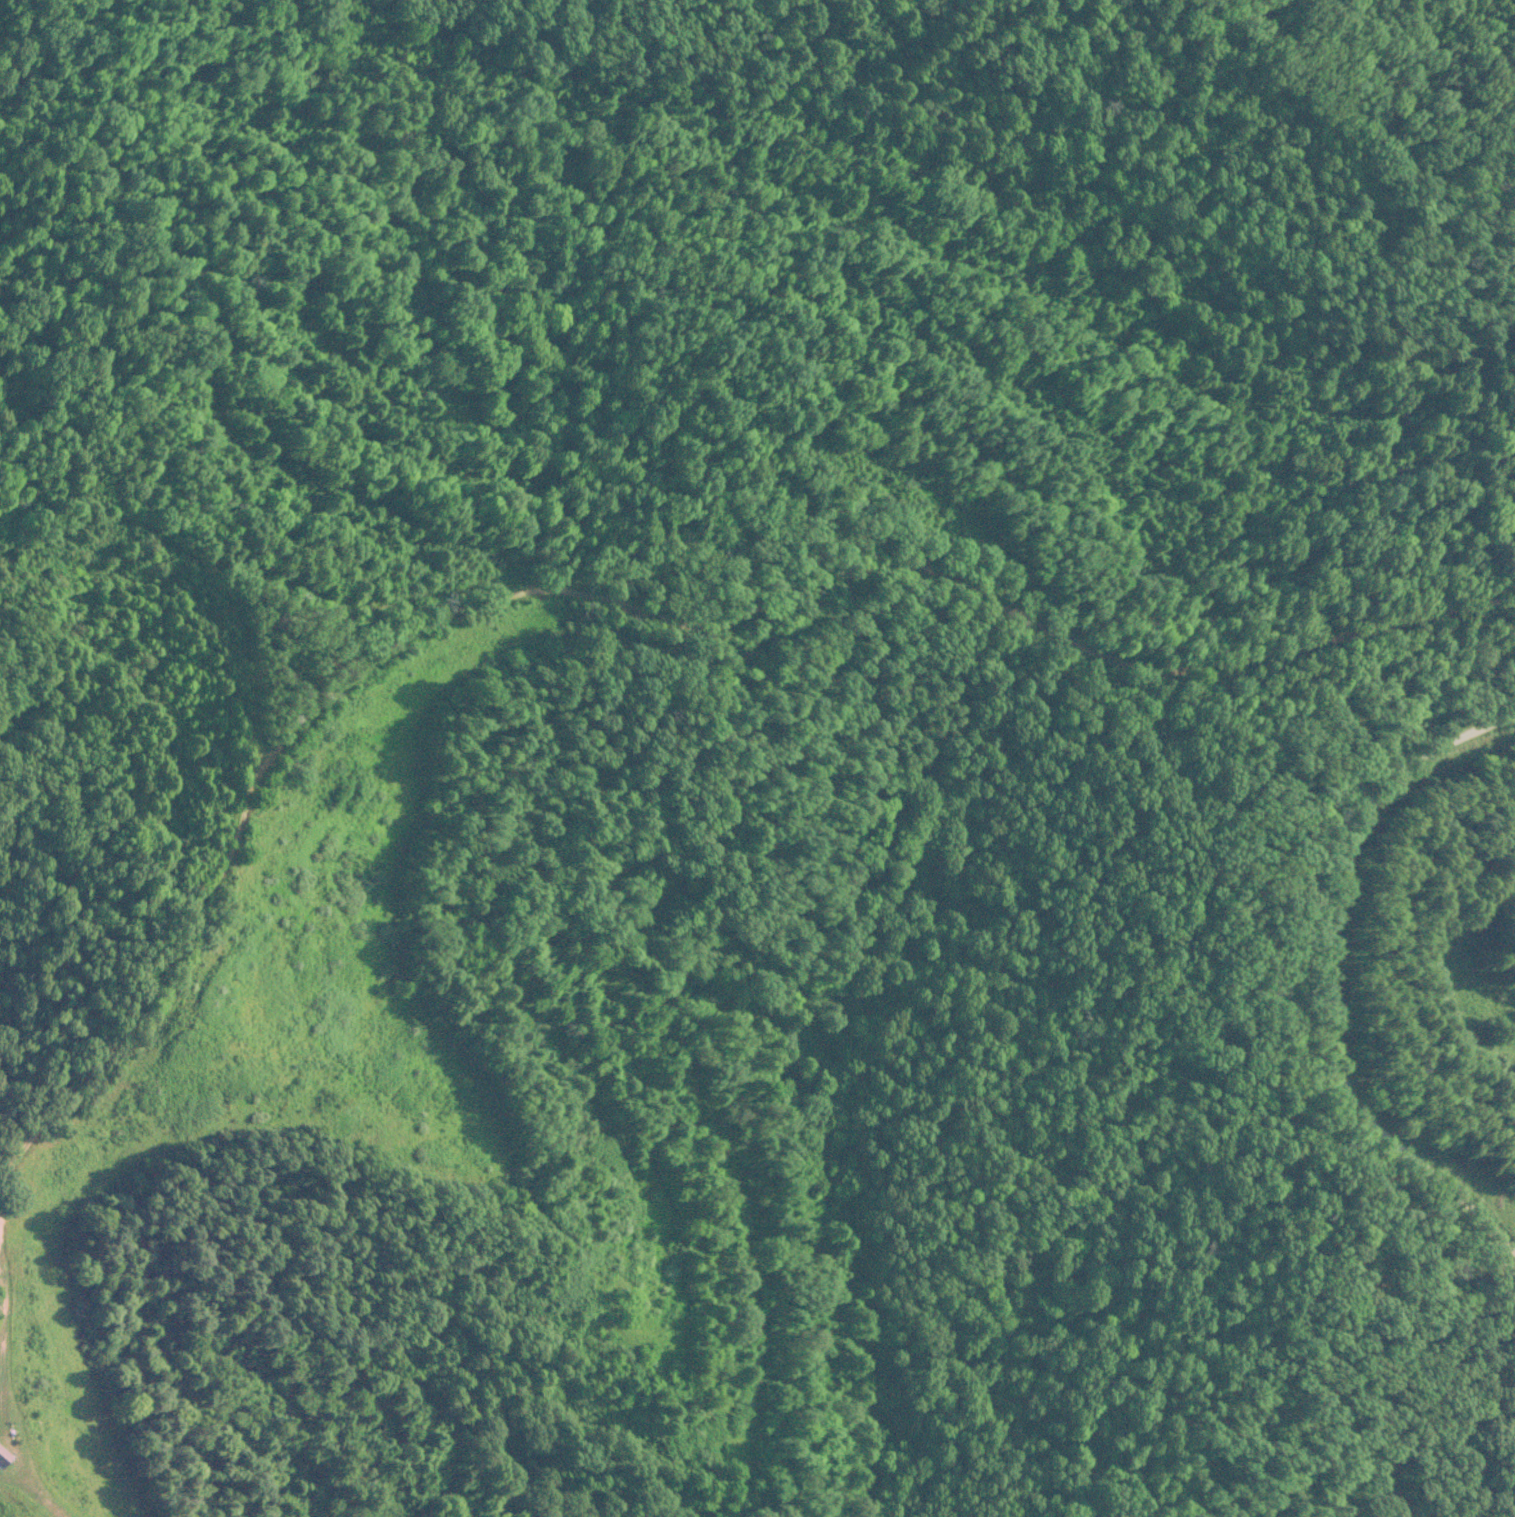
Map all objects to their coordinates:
road: (606, 625)
road: (1359, 986)

